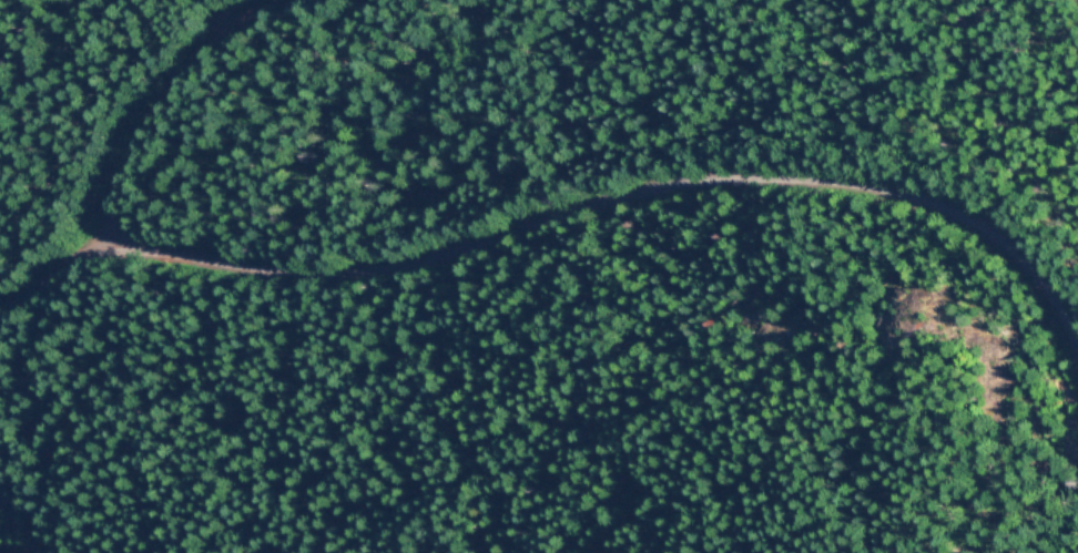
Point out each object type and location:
road: (210, 20)
road: (165, 85)
road: (565, 214)

